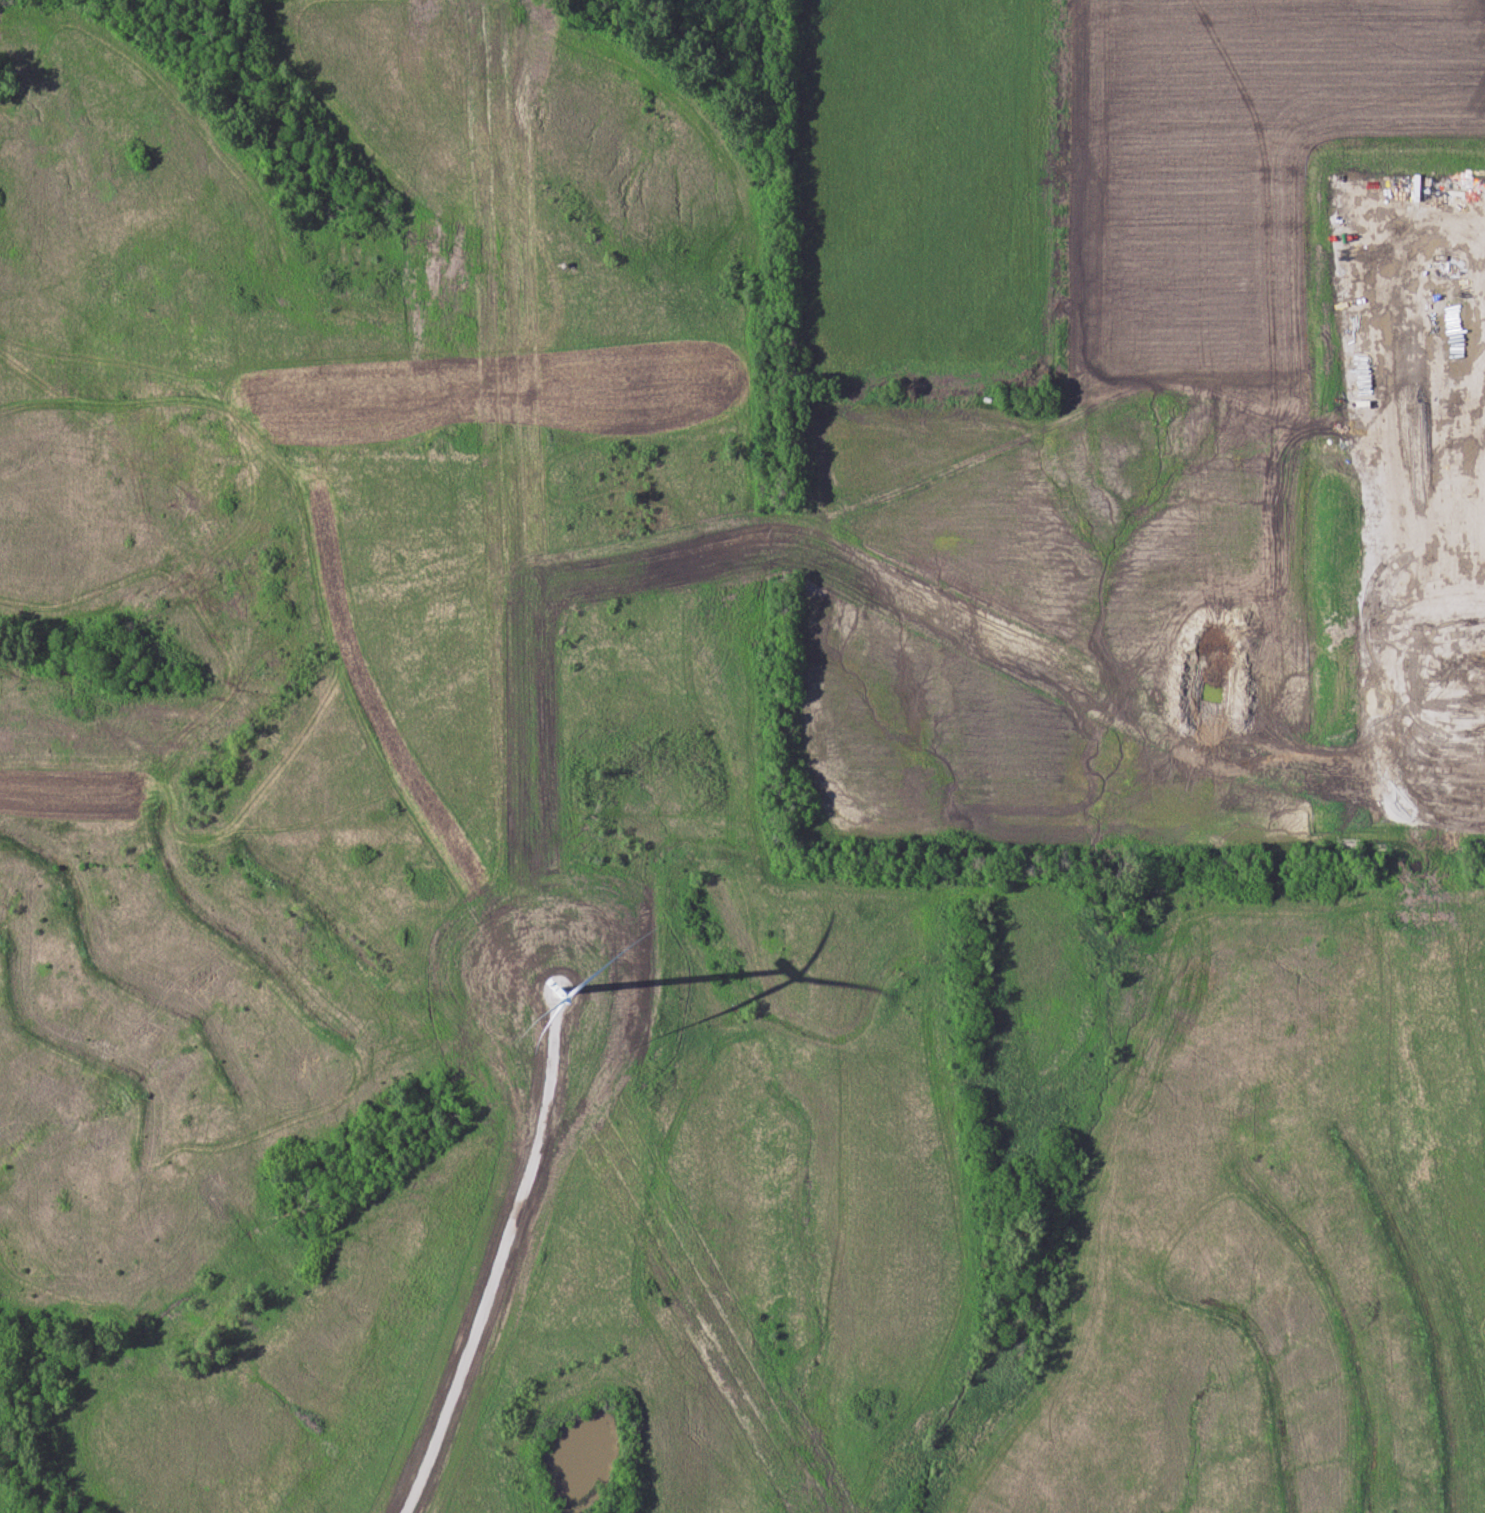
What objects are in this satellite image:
wind turbine: (560, 988)

